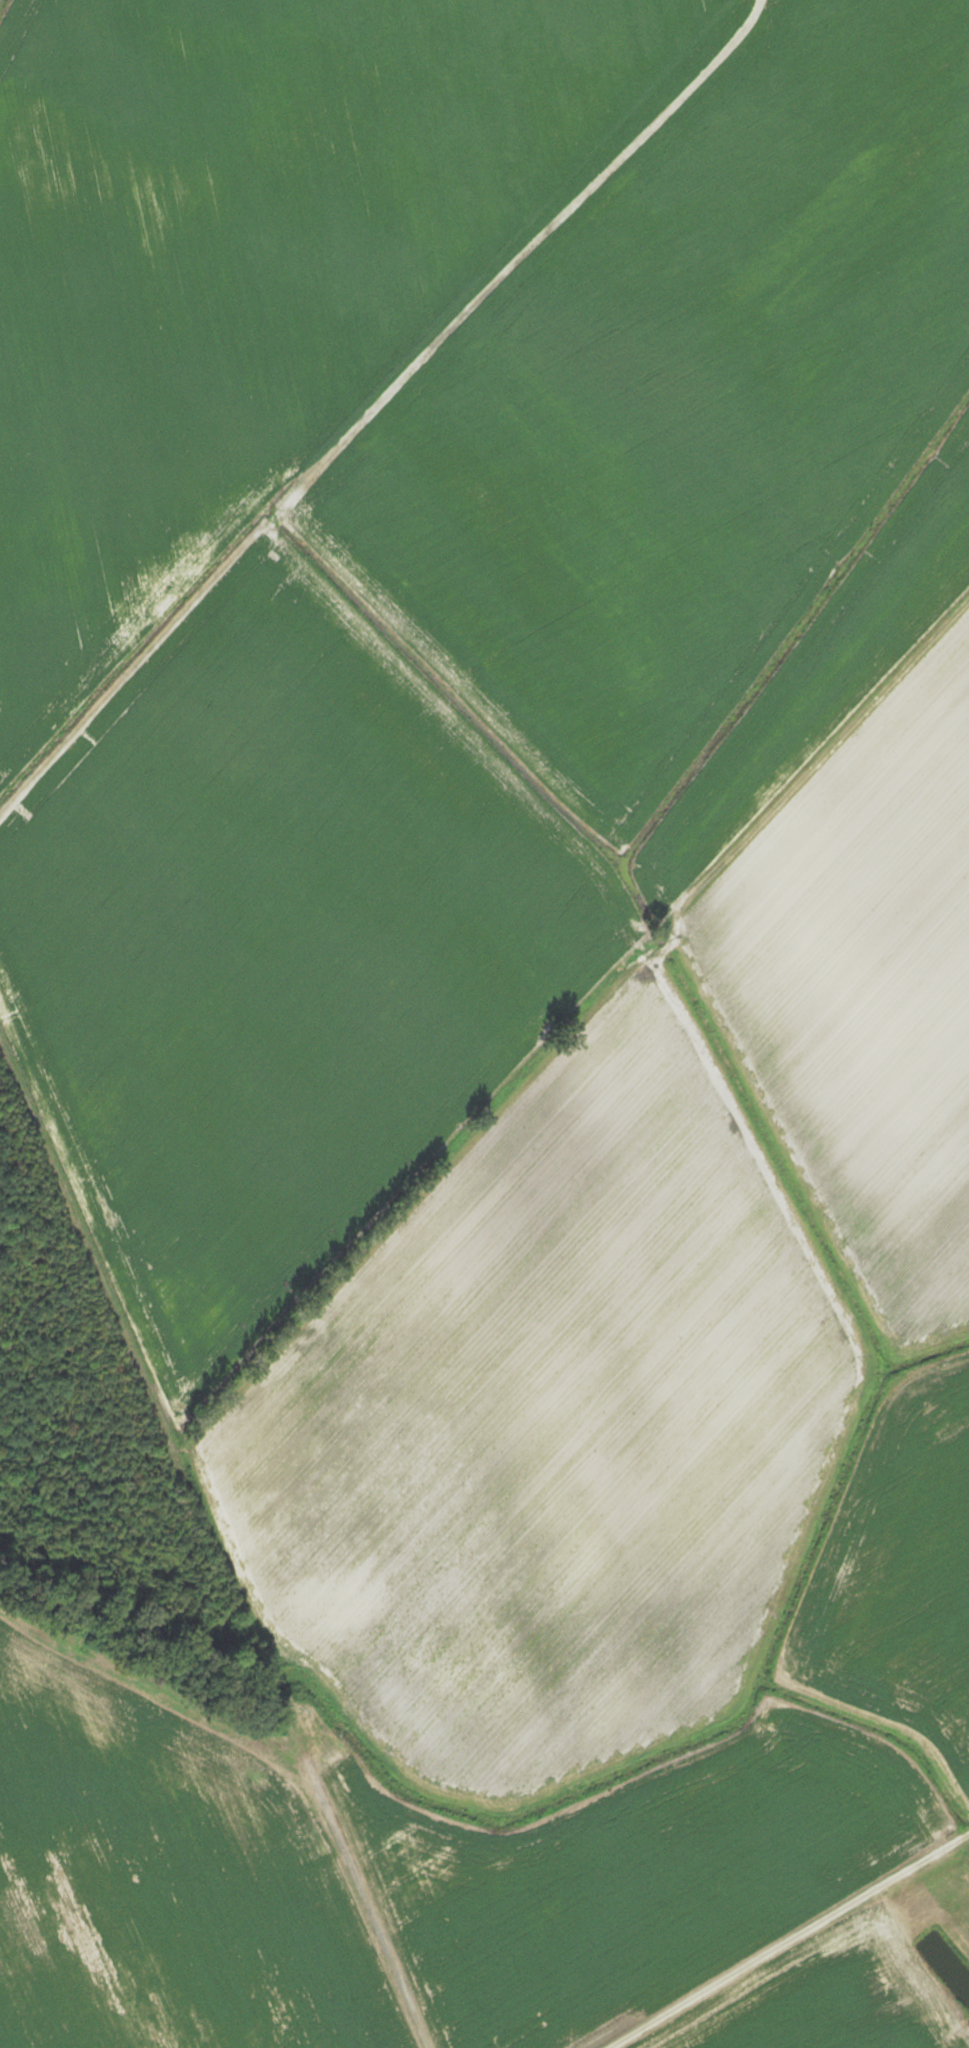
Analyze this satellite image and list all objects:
road: (238, 1494)
road: (825, 1957)

